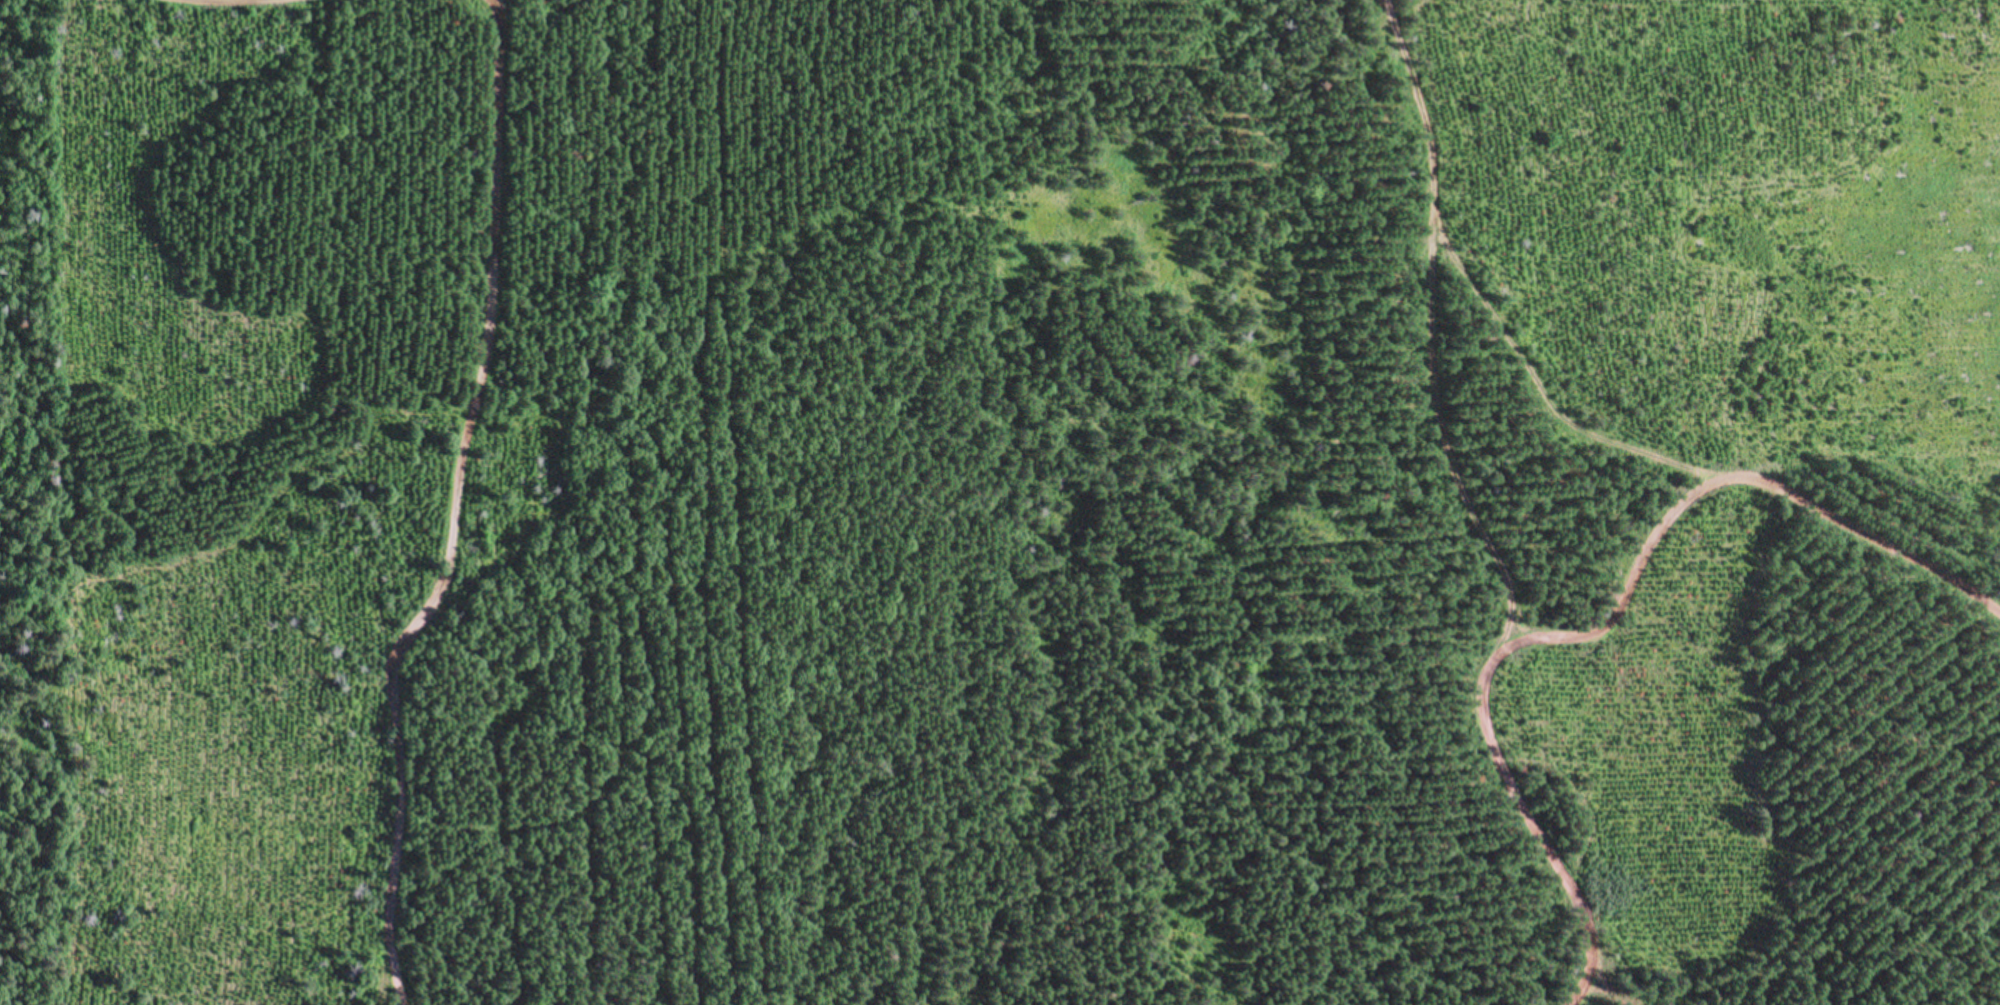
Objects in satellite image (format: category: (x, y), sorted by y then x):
road: (1673, 450)
road: (464, 507)
road: (1490, 519)
road: (1638, 579)

